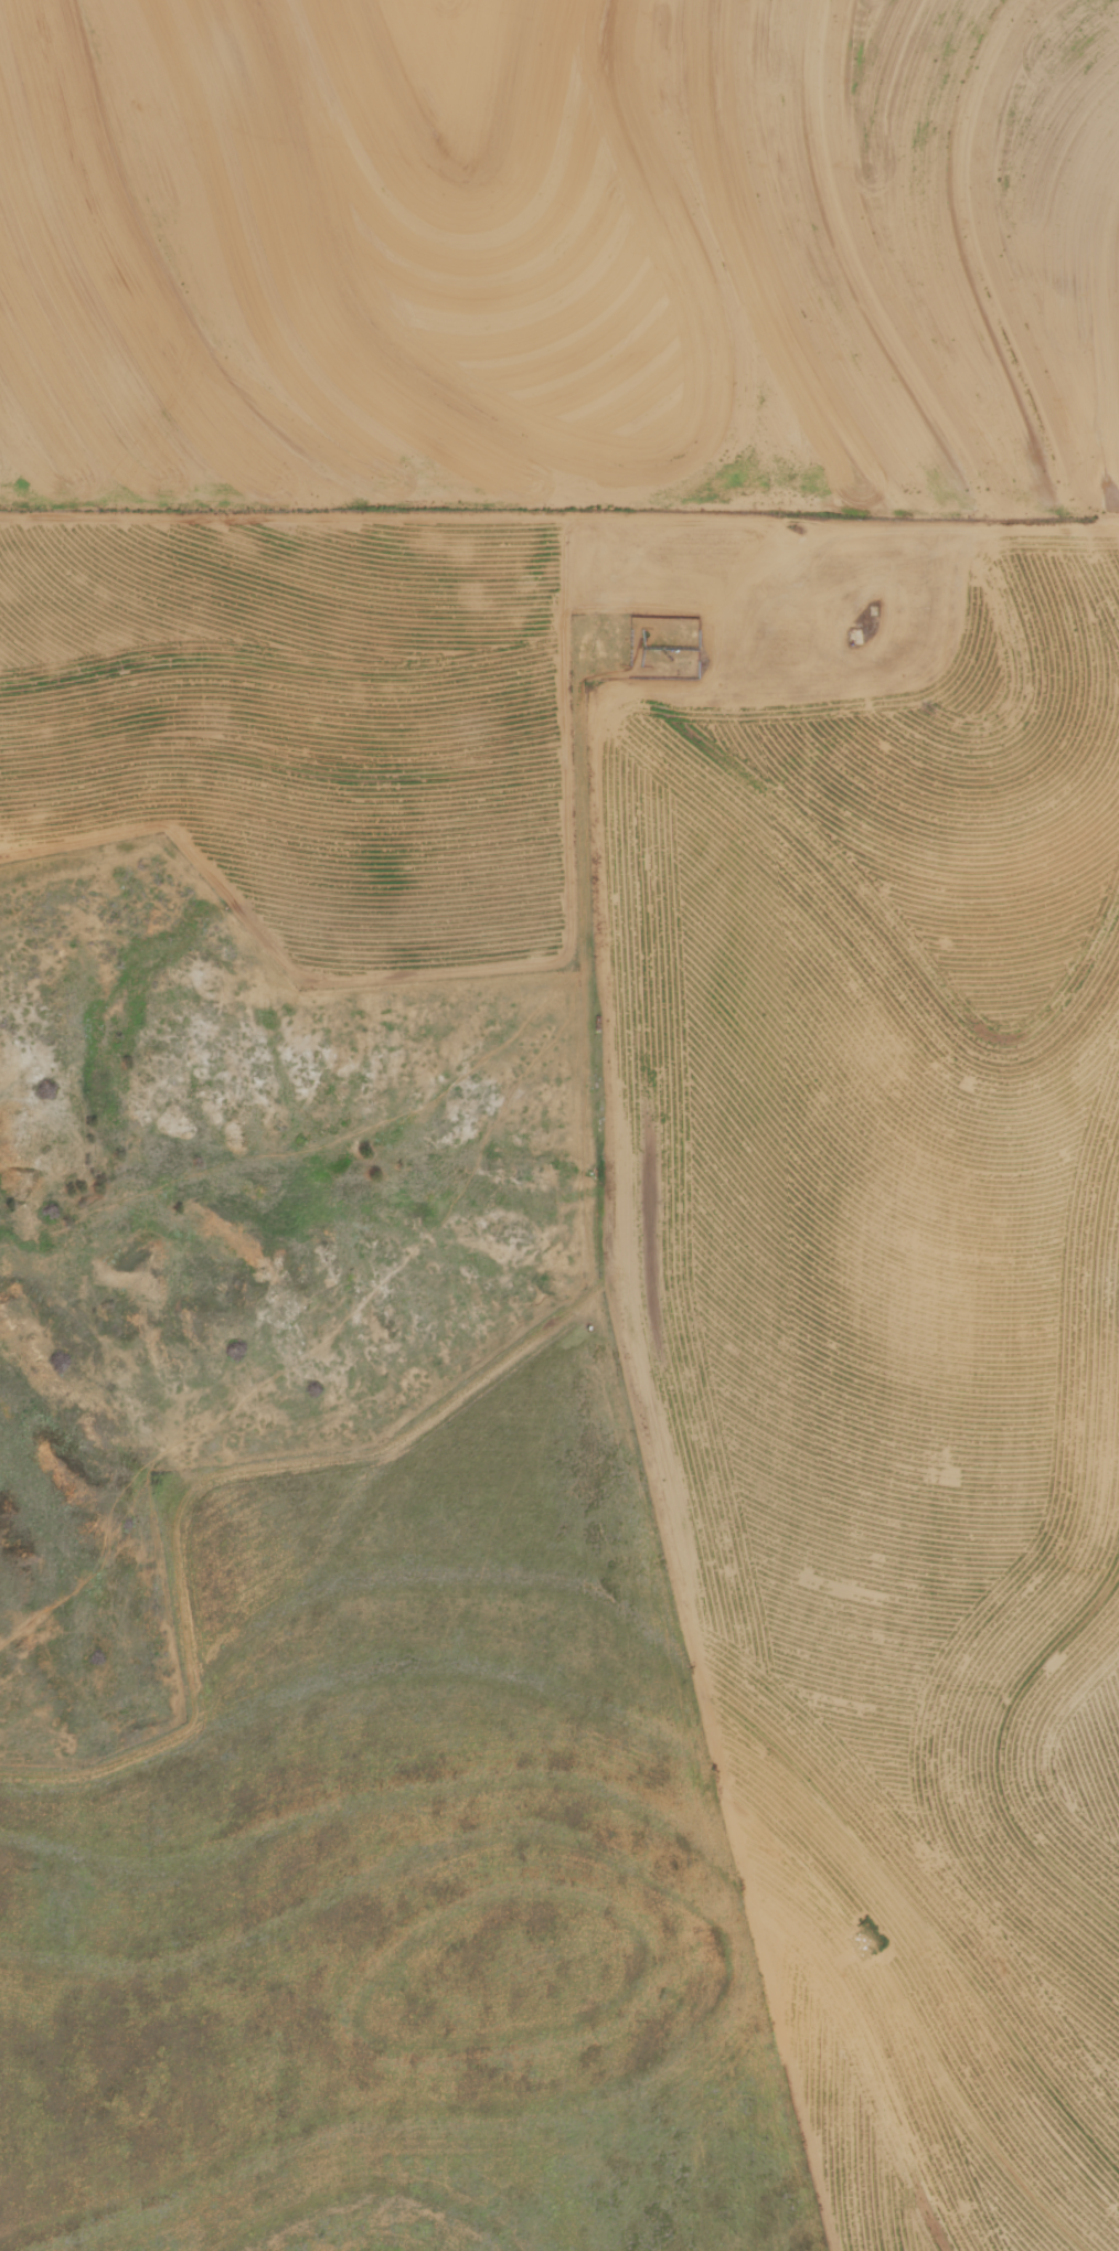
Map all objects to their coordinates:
road: (938, 636)

